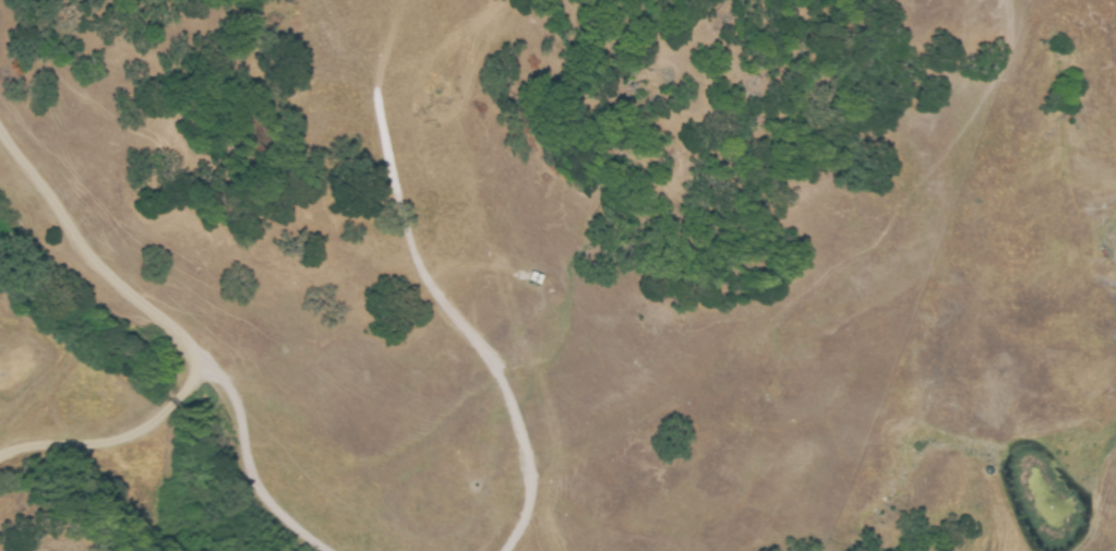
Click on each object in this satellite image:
road: (463, 327)
road: (177, 332)
road: (116, 441)

